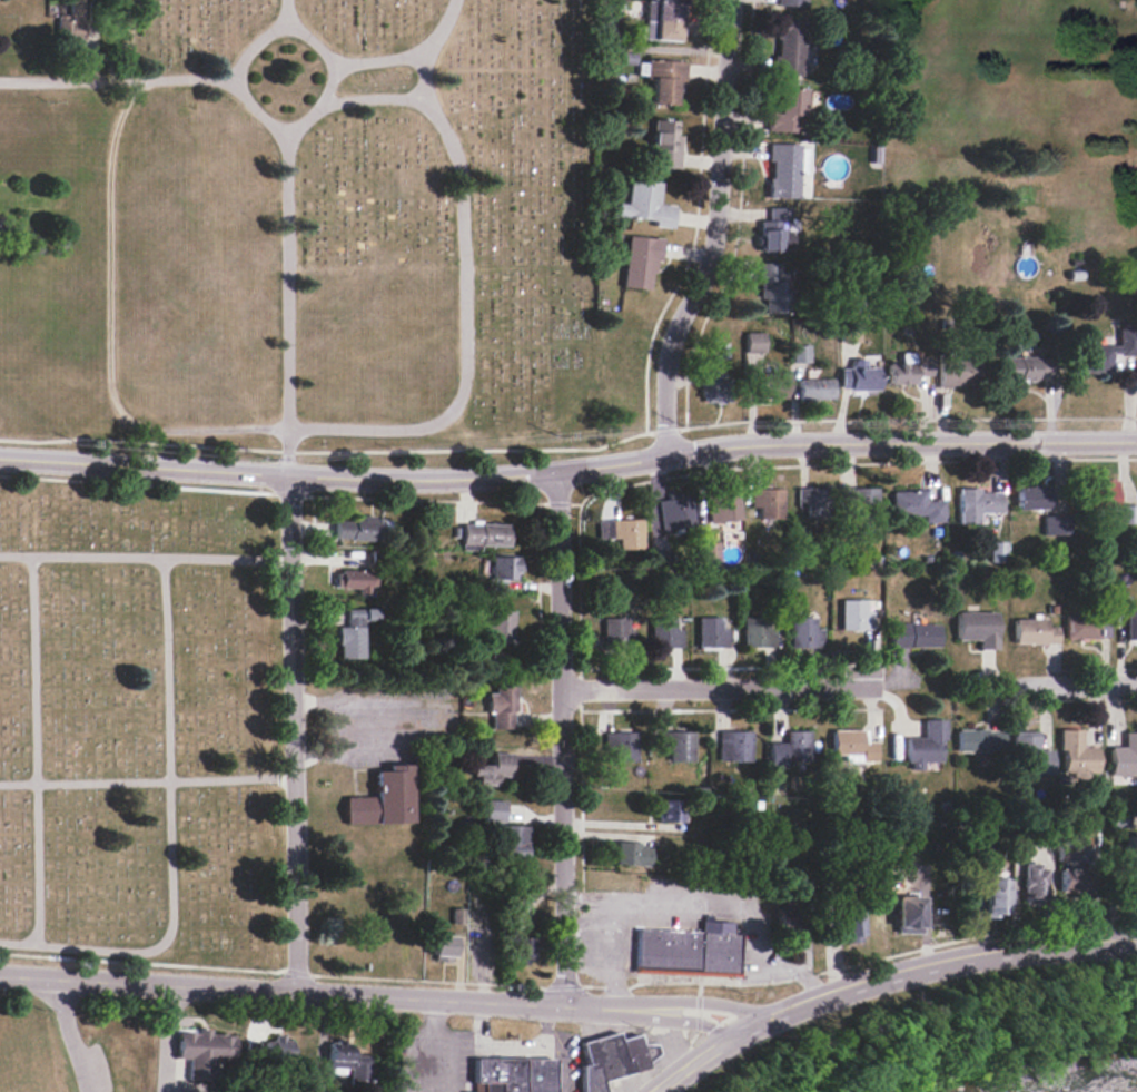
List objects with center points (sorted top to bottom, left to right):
building: (790, 2)
road: (283, 11)
building: (663, 20)
building: (70, 24)
building: (788, 46)
road: (405, 56)
road: (118, 81)
road: (369, 99)
building: (787, 109)
road: (281, 121)
building: (664, 144)
building: (783, 169)
building: (645, 204)
road: (713, 229)
building: (775, 229)
park: (344, 235)
building: (640, 262)
building: (772, 286)
road: (286, 296)
building: (851, 332)
building: (754, 342)
building: (1104, 352)
building: (800, 353)
building: (909, 368)
building: (959, 372)
building: (859, 376)
building: (770, 384)
building: (713, 386)
building: (815, 388)
road: (301, 430)
road: (568, 464)
building: (1103, 494)
building: (1032, 498)
building: (768, 502)
building: (815, 502)
building: (977, 503)
building: (917, 505)
building: (724, 506)
building: (866, 508)
building: (676, 512)
building: (1127, 513)
building: (1056, 524)
building: (359, 529)
building: (623, 532)
building: (485, 534)
building: (710, 551)
building: (998, 551)
road: (144, 557)
building: (503, 570)
building: (356, 580)
building: (856, 616)
building: (1126, 616)
building: (1086, 626)
building: (977, 627)
building: (617, 631)
building: (1032, 631)
building: (354, 632)
building: (711, 632)
building: (759, 632)
building: (497, 633)
building: (665, 633)
building: (804, 633)
building: (913, 634)
road: (713, 686)
road: (1081, 688)
park: (140, 730)
road: (291, 731)
road: (561, 735)
building: (980, 740)
building: (926, 744)
building: (853, 745)
building: (620, 746)
building: (680, 746)
building: (734, 746)
building: (1026, 748)
building: (790, 749)
road: (33, 750)
building: (1076, 754)
building: (1124, 756)
building: (495, 769)
road: (146, 781)
building: (383, 798)
building: (669, 809)
building: (494, 810)
road: (168, 834)
building: (512, 843)
building: (1130, 850)
building: (631, 853)
building: (1066, 853)
building: (987, 854)
building: (1072, 879)
building: (1034, 883)
building: (996, 895)
road: (691, 898)
building: (909, 912)
building: (850, 923)
building: (787, 925)
building: (518, 950)
road: (586, 950)
road: (921, 972)
road: (303, 992)
road: (686, 1002)
road: (668, 1022)
road: (69, 1033)
road: (421, 1043)
road: (535, 1044)
building: (270, 1049)
building: (205, 1051)
road: (708, 1054)
building: (606, 1059)
parking lot: (432, 1060)
building: (348, 1062)
road: (558, 1065)
building: (511, 1074)
road: (675, 1076)

